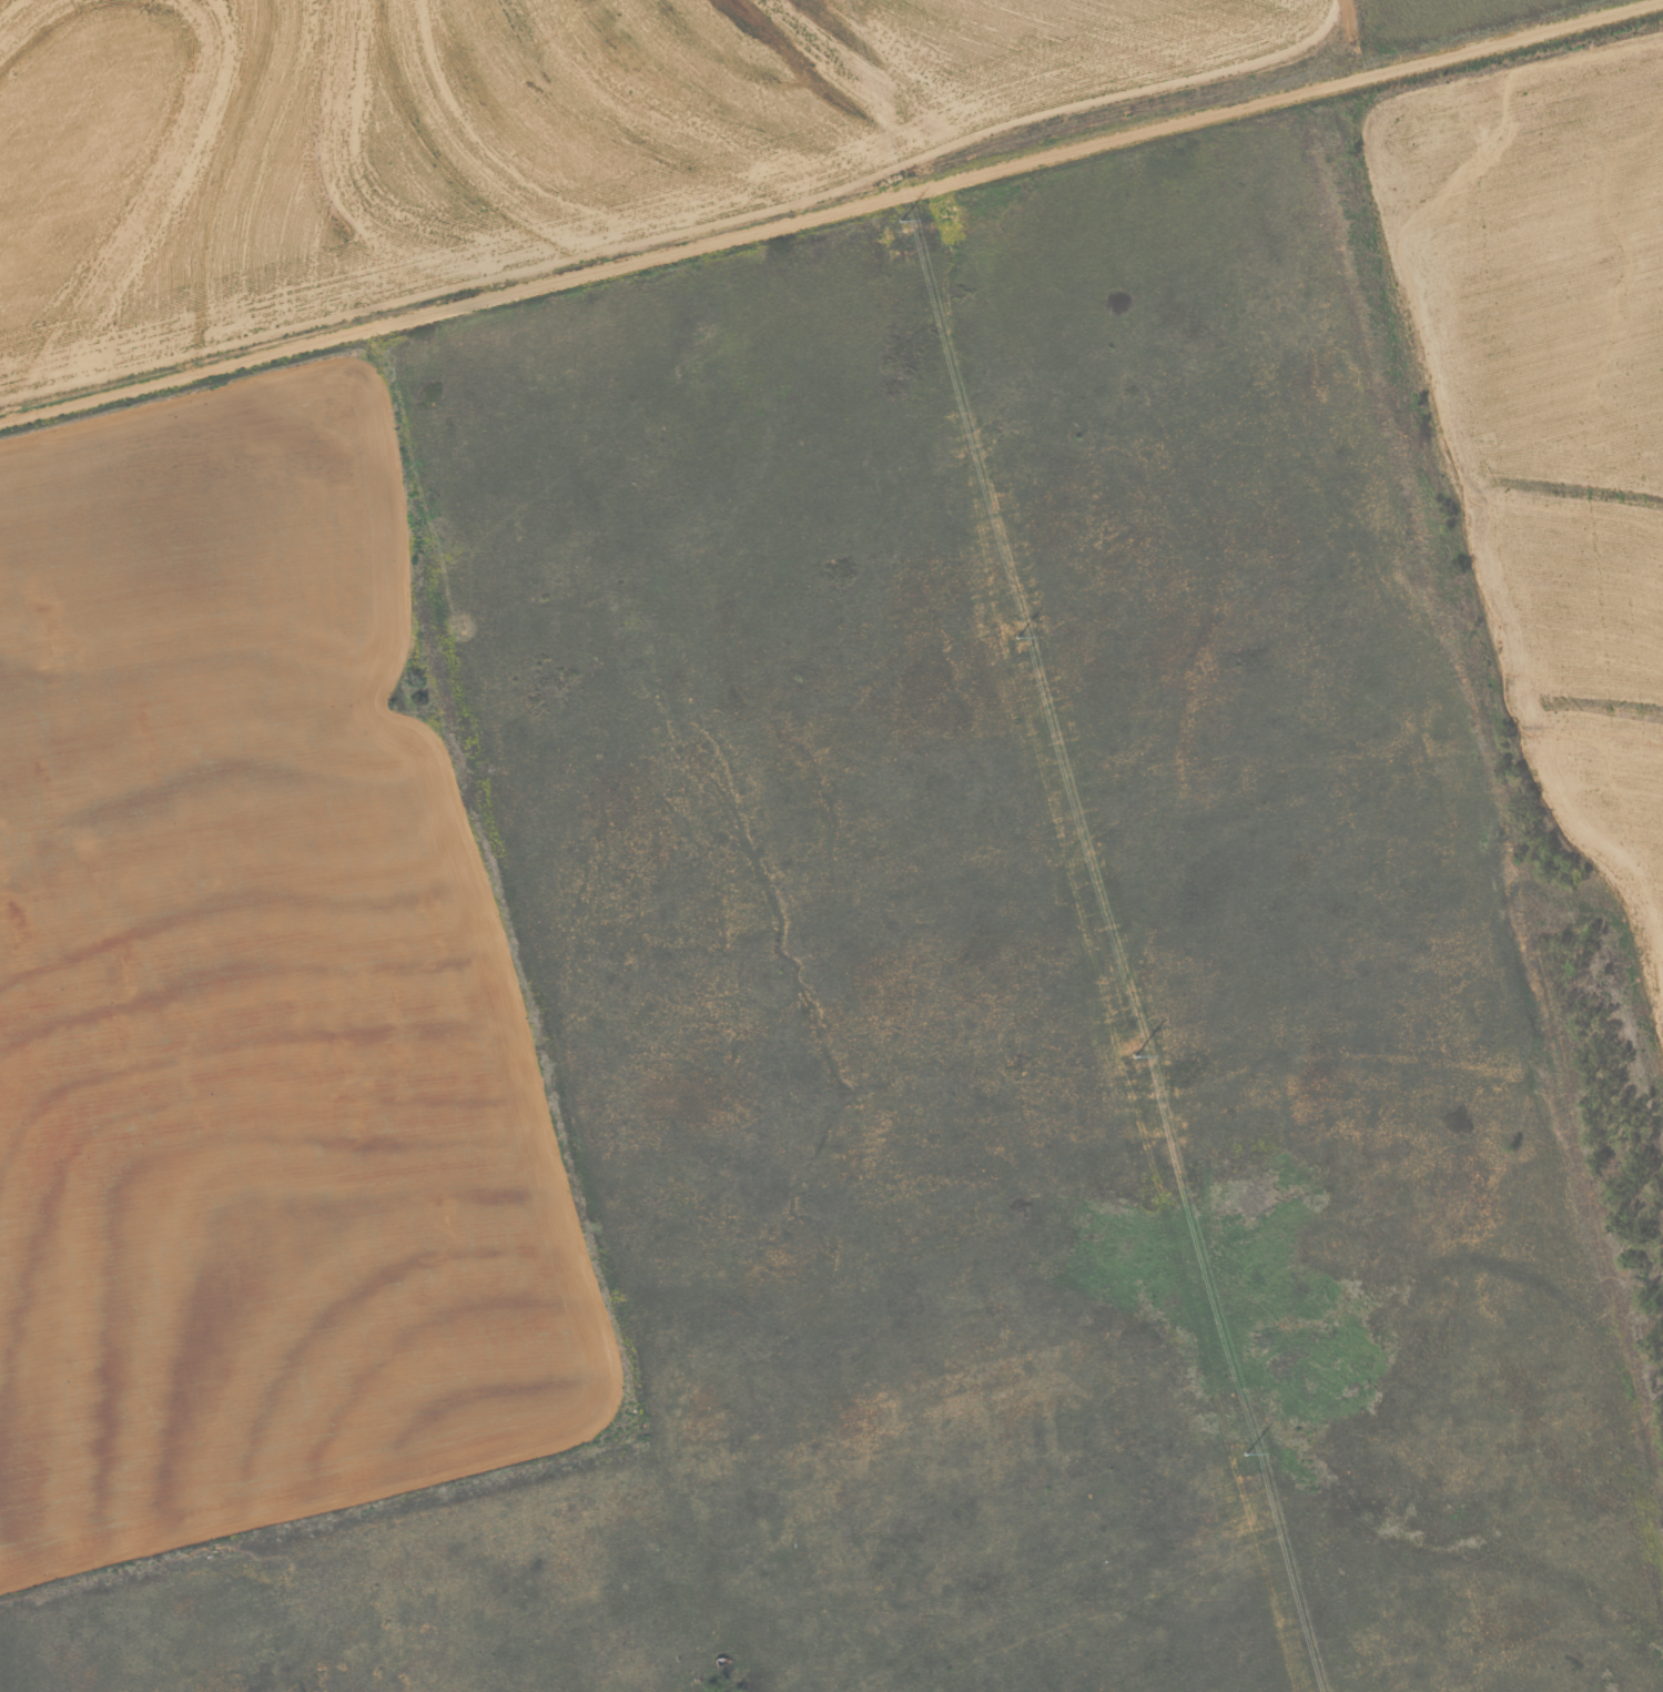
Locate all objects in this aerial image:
road: (760, 180)
power tower: (903, 231)
power tower: (1020, 646)
power tower: (1136, 1066)
power tower: (1249, 1472)
road: (752, 1674)

